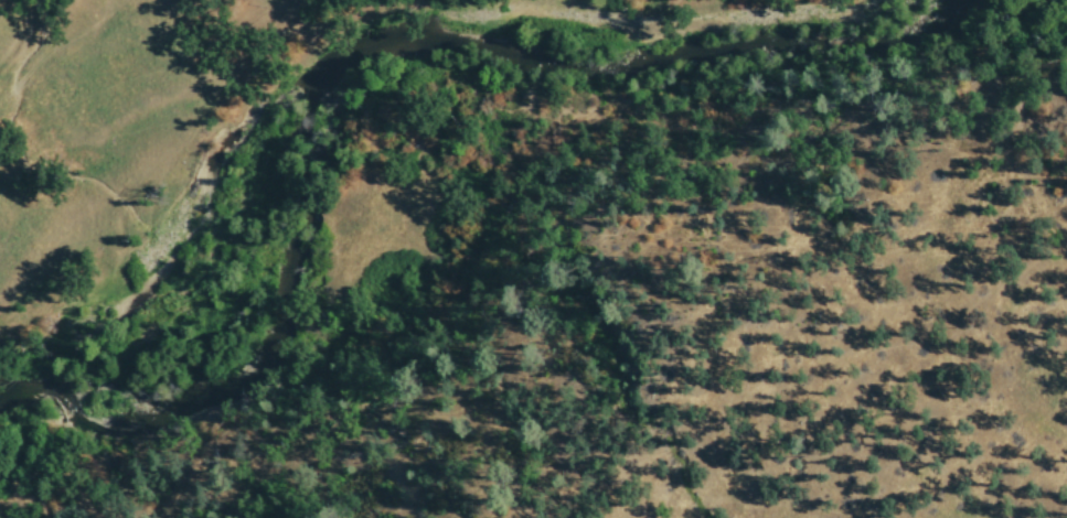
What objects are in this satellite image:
river: (590, 72)
river: (212, 380)

